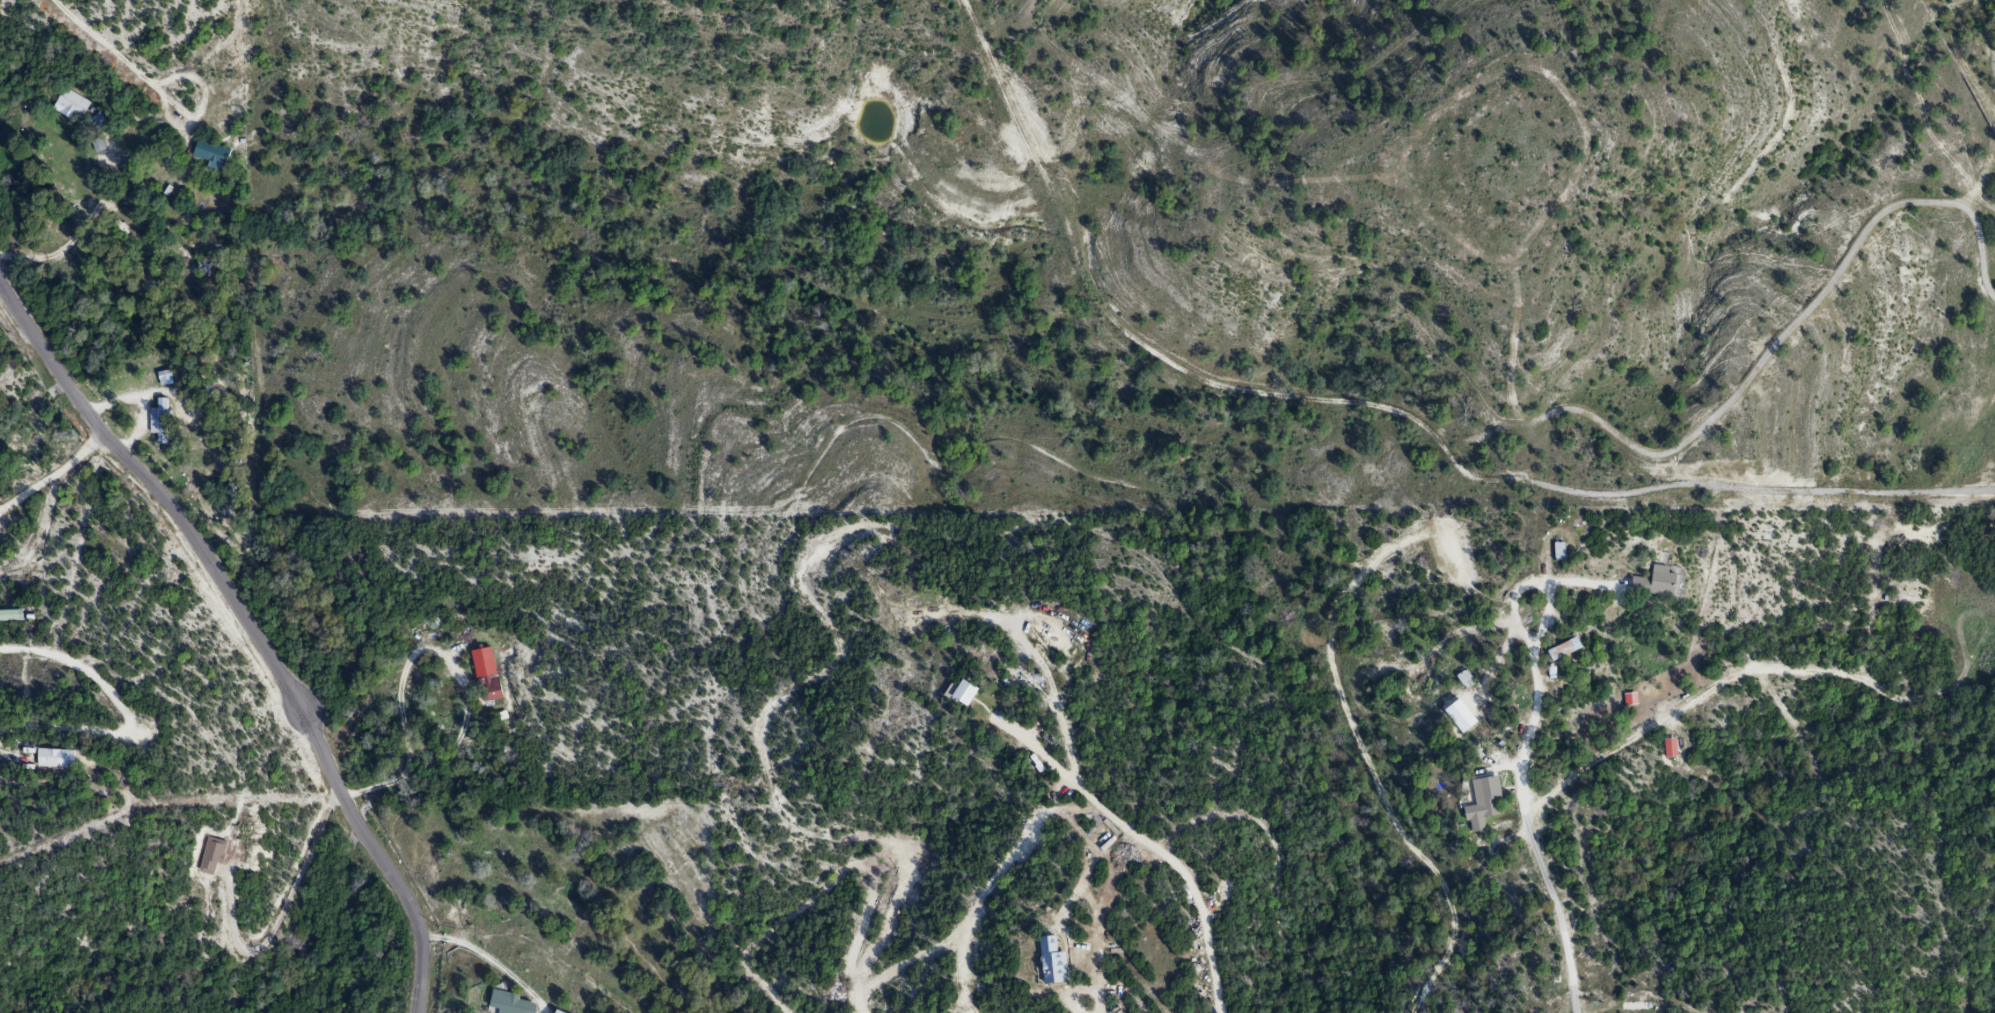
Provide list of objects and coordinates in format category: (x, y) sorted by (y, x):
road: (102, 43)
building: (72, 105)
building: (211, 154)
road: (80, 233)
building: (161, 422)
road: (51, 471)
building: (1559, 553)
building: (1655, 584)
road: (249, 629)
building: (1564, 651)
road: (463, 675)
building: (486, 676)
building: (964, 694)
road: (1595, 759)
building: (55, 760)
road: (1521, 799)
building: (1483, 805)
building: (212, 856)
road: (279, 901)
road: (485, 950)
building: (1051, 964)
building: (511, 1004)
road: (1079, 1008)
building: (556, 1012)

